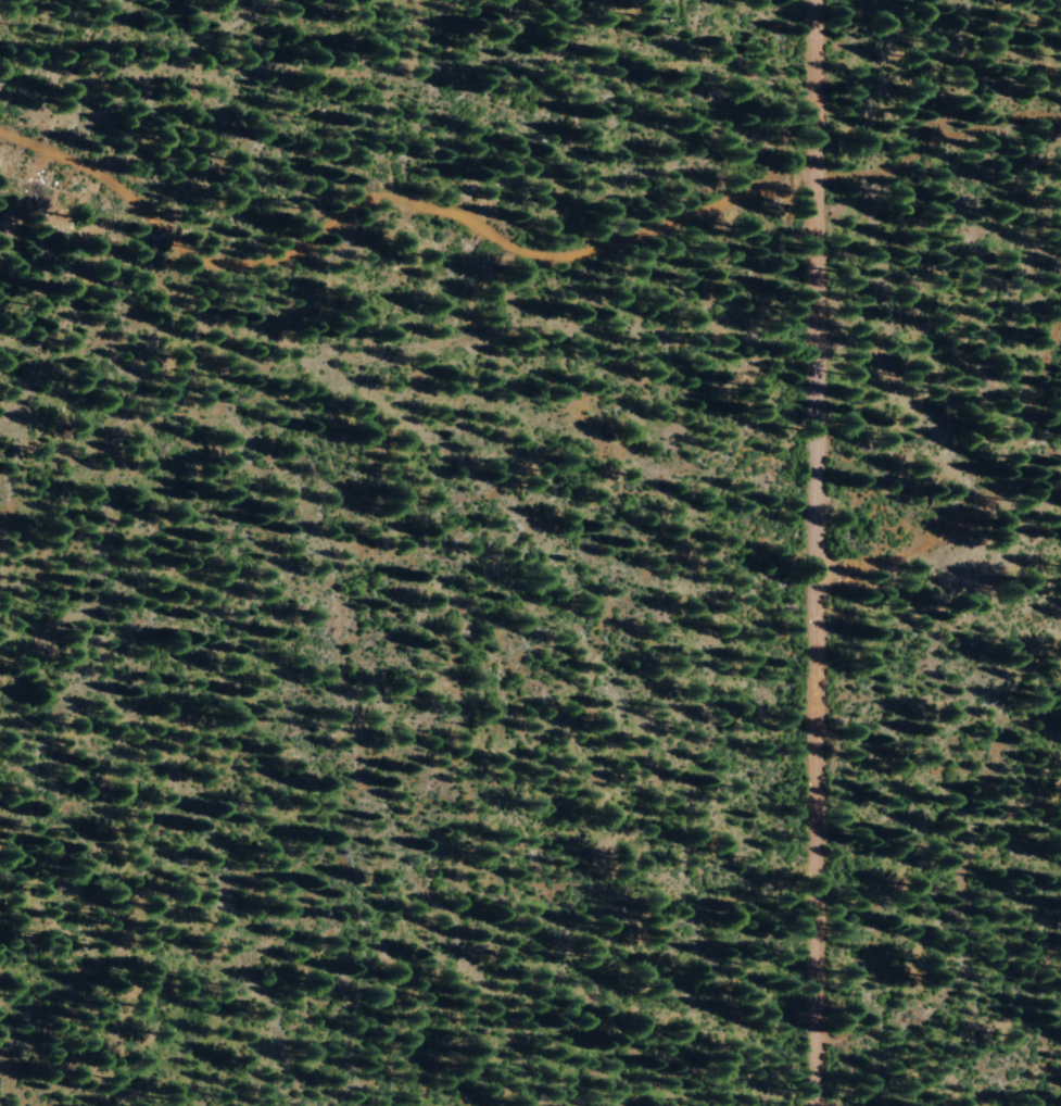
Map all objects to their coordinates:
road: (817, 552)

